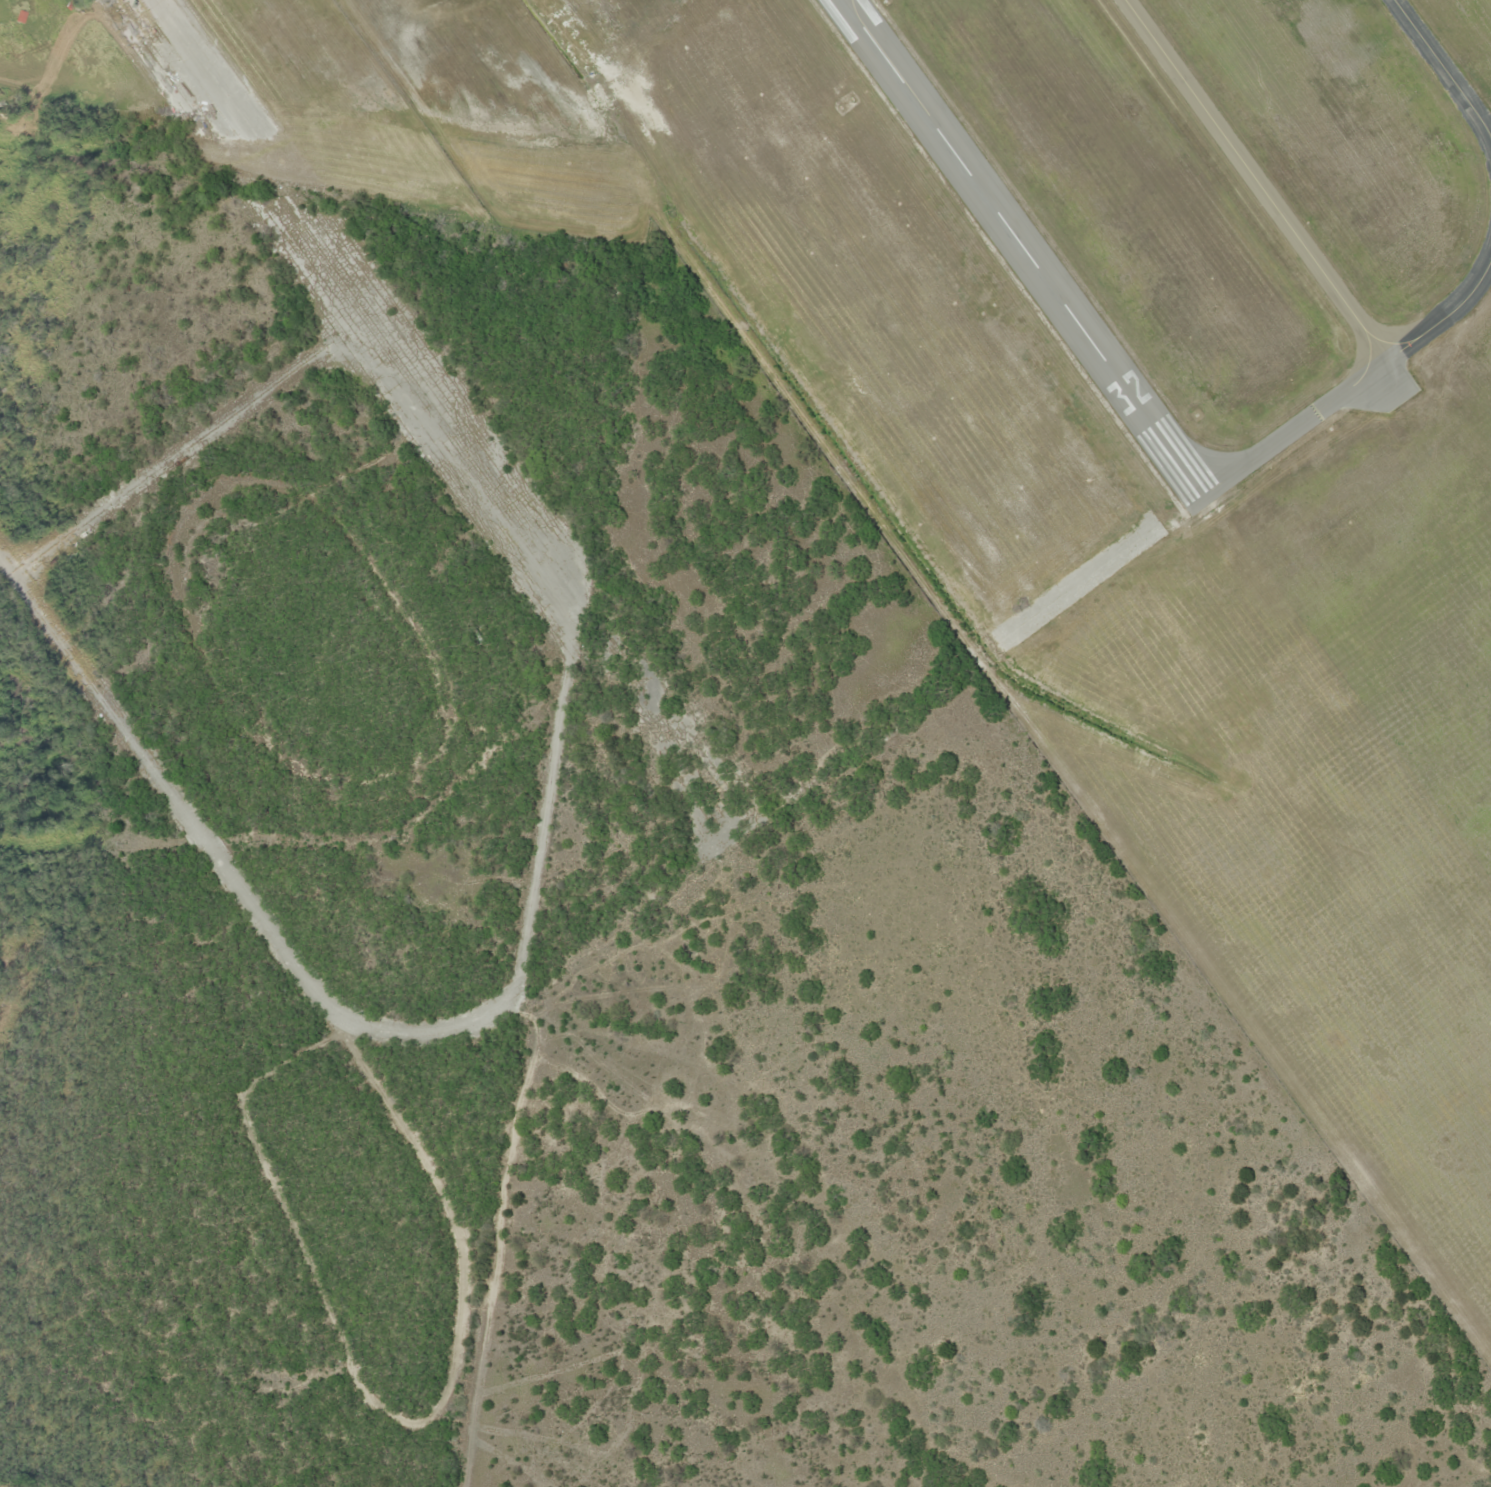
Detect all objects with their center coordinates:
airport taxiway: (1443, 69)
airport taxiway: (1253, 180)
airport runway: (1021, 247)
airport taxiway: (1354, 382)
road: (437, 414)
airport: (1127, 442)

